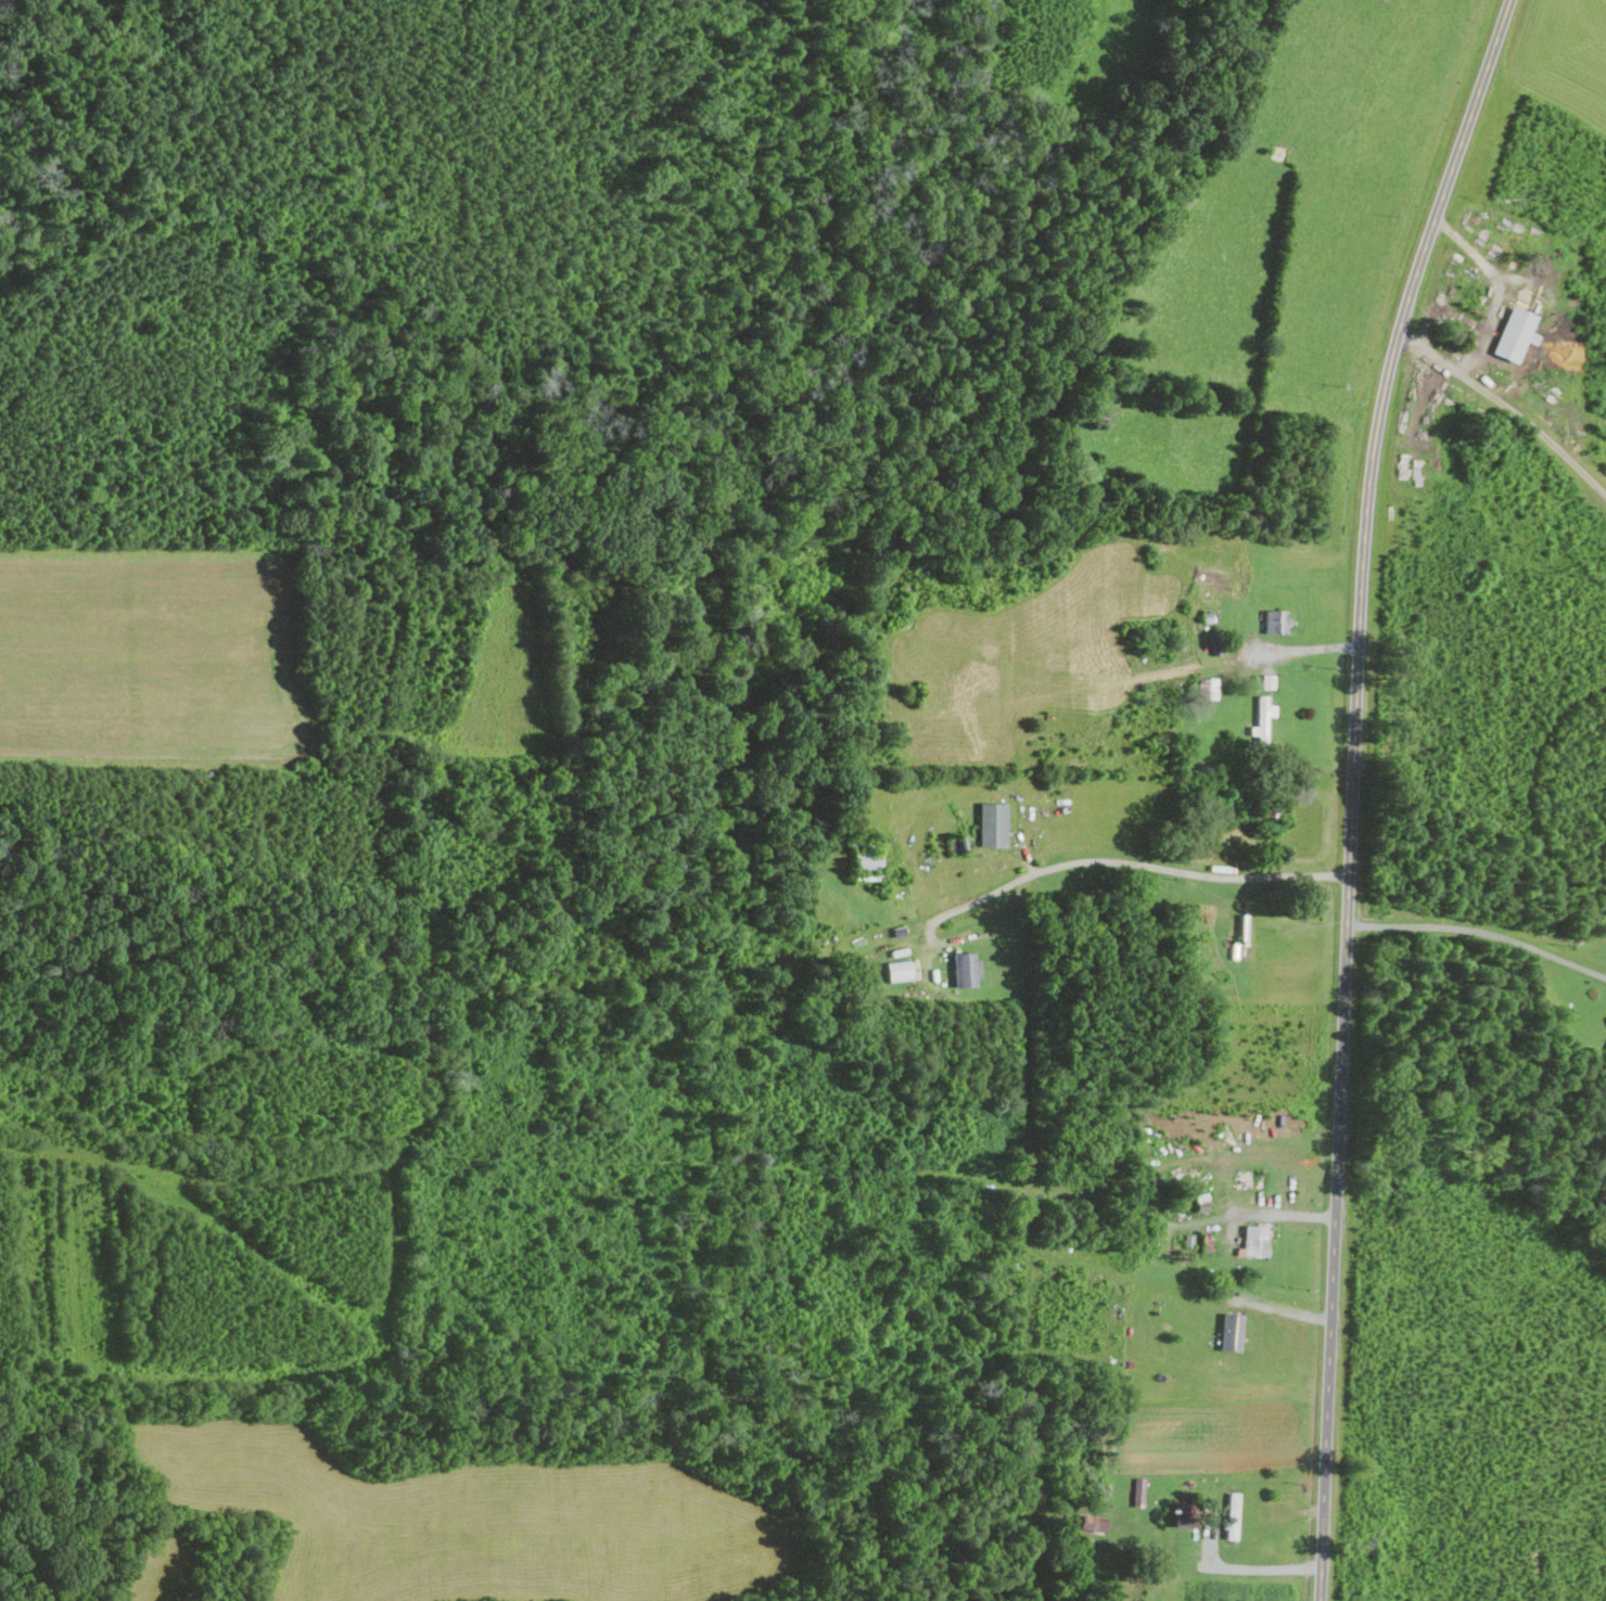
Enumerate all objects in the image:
road: (1496, 289)
building: (1516, 334)
road: (1507, 405)
road: (1309, 649)
road: (1353, 789)
building: (993, 823)
building: (868, 859)
road: (1126, 862)
road: (1480, 932)
building: (966, 969)
building: (898, 970)
building: (1256, 1241)
building: (1232, 1331)
building: (1138, 1490)
building: (1093, 1523)
road: (1253, 1567)

